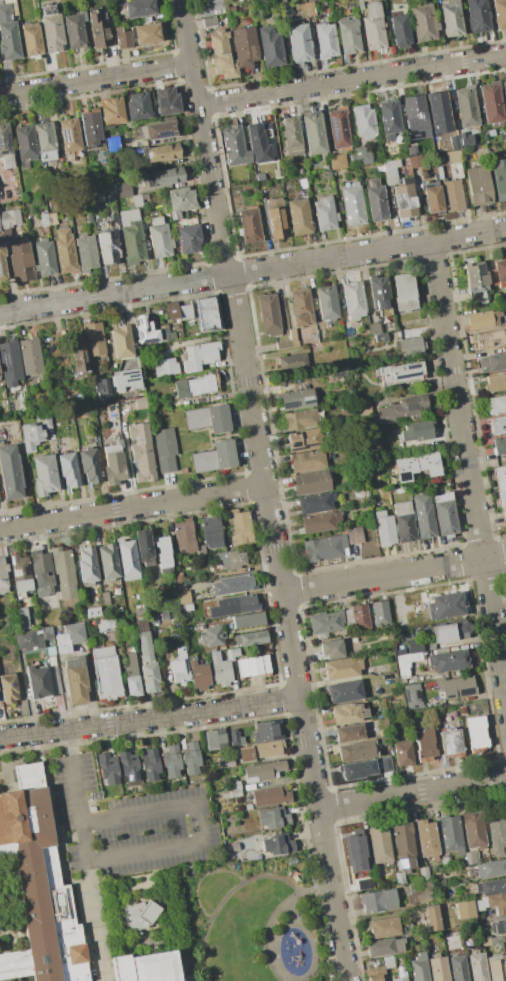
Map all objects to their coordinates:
building: (363, 0)
building: (390, 1)
building: (270, 3)
building: (405, 4)
building: (138, 8)
building: (231, 9)
building: (277, 12)
building: (499, 13)
building: (477, 16)
building: (450, 17)
building: (209, 22)
building: (423, 22)
building: (97, 27)
building: (373, 27)
building: (51, 29)
building: (75, 30)
building: (399, 31)
building: (8, 34)
building: (146, 34)
building: (349, 36)
building: (122, 38)
building: (31, 40)
building: (325, 41)
building: (299, 43)
building: (244, 46)
building: (271, 47)
building: (221, 54)
road: (95, 79)
road: (352, 82)
building: (504, 90)
building: (166, 101)
building: (492, 104)
building: (137, 106)
building: (466, 107)
building: (112, 110)
building: (414, 111)
building: (438, 112)
building: (389, 121)
building: (363, 123)
building: (91, 127)
building: (156, 130)
building: (338, 130)
building: (314, 133)
building: (69, 135)
building: (292, 136)
building: (45, 140)
building: (256, 141)
building: (454, 142)
building: (25, 144)
building: (112, 144)
building: (235, 145)
building: (412, 147)
building: (161, 152)
building: (272, 155)
building: (360, 156)
building: (454, 157)
building: (337, 162)
building: (415, 162)
building: (7, 167)
building: (390, 171)
building: (277, 173)
building: (325, 175)
building: (162, 176)
building: (499, 177)
building: (302, 183)
building: (477, 186)
building: (260, 187)
building: (122, 190)
building: (452, 195)
building: (432, 197)
building: (94, 199)
building: (136, 200)
building: (375, 201)
building: (404, 201)
building: (180, 202)
building: (353, 204)
building: (324, 213)
building: (298, 216)
building: (276, 217)
building: (51, 218)
building: (89, 218)
building: (43, 219)
building: (8, 222)
building: (250, 224)
building: (131, 236)
building: (188, 238)
building: (159, 239)
building: (108, 247)
building: (64, 251)
building: (86, 253)
building: (44, 257)
building: (21, 263)
building: (2, 265)
road: (253, 269)
building: (499, 273)
building: (474, 275)
building: (404, 292)
building: (379, 295)
building: (353, 299)
building: (327, 303)
building: (301, 307)
building: (171, 310)
building: (185, 312)
building: (206, 313)
building: (268, 314)
building: (483, 320)
building: (144, 331)
building: (347, 331)
building: (165, 333)
building: (292, 336)
building: (381, 338)
building: (95, 339)
building: (490, 339)
building: (121, 342)
building: (410, 347)
building: (79, 354)
building: (199, 355)
building: (30, 356)
building: (9, 359)
building: (291, 361)
building: (493, 362)
building: (166, 367)
building: (401, 373)
building: (126, 380)
building: (495, 382)
building: (196, 386)
building: (103, 388)
building: (297, 400)
building: (79, 403)
building: (497, 404)
building: (140, 406)
building: (363, 407)
building: (401, 409)
building: (207, 418)
building: (301, 419)
building: (498, 425)
building: (418, 431)
building: (35, 432)
building: (304, 440)
building: (499, 445)
building: (165, 449)
building: (142, 450)
building: (214, 457)
building: (307, 461)
building: (113, 463)
road: (469, 464)
building: (89, 466)
building: (416, 467)
building: (68, 469)
building: (10, 473)
building: (43, 474)
building: (311, 482)
building: (500, 485)
road: (265, 490)
building: (315, 503)
road: (132, 507)
building: (444, 514)
building: (320, 521)
building: (403, 522)
building: (424, 523)
building: (240, 526)
building: (384, 529)
building: (211, 531)
building: (187, 538)
building: (330, 545)
building: (144, 547)
building: (163, 554)
building: (231, 559)
building: (127, 560)
building: (108, 562)
building: (87, 566)
building: (41, 573)
building: (62, 573)
building: (20, 575)
building: (4, 577)
road: (394, 577)
building: (179, 578)
building: (233, 584)
building: (180, 586)
building: (157, 593)
building: (183, 596)
building: (105, 598)
building: (235, 605)
building: (446, 606)
building: (188, 607)
building: (94, 612)
building: (380, 613)
building: (163, 617)
building: (357, 617)
building: (153, 619)
building: (247, 620)
building: (325, 622)
building: (106, 625)
building: (461, 628)
building: (29, 634)
building: (69, 636)
building: (211, 637)
building: (250, 638)
building: (414, 646)
building: (332, 649)
building: (50, 651)
building: (146, 659)
building: (52, 661)
building: (448, 661)
building: (251, 666)
building: (180, 667)
building: (342, 668)
building: (220, 670)
building: (402, 670)
building: (106, 673)
building: (197, 673)
building: (132, 677)
road: (343, 679)
building: (75, 680)
building: (39, 683)
building: (456, 687)
building: (8, 688)
building: (344, 692)
building: (413, 696)
building: (437, 712)
road: (182, 713)
building: (348, 714)
building: (267, 731)
building: (476, 731)
building: (349, 732)
road: (33, 733)
building: (235, 738)
building: (214, 739)
building: (451, 741)
building: (424, 743)
building: (259, 751)
building: (352, 751)
building: (402, 753)
building: (191, 758)
building: (171, 762)
building: (225, 762)
building: (128, 766)
building: (151, 766)
building: (108, 768)
building: (354, 770)
building: (263, 771)
road: (74, 775)
building: (234, 789)
road: (412, 794)
building: (270, 796)
road: (157, 810)
building: (273, 818)
parking lot: (125, 827)
building: (473, 827)
building: (496, 831)
building: (451, 835)
building: (426, 838)
building: (277, 844)
building: (379, 844)
building: (404, 845)
building: (356, 851)
road: (124, 856)
building: (470, 857)
building: (491, 869)
building: (424, 873)
road: (263, 876)
road: (201, 877)
building: (399, 877)
building: (362, 884)
building: (491, 886)
building: (37, 887)
building: (418, 887)
building: (378, 901)
building: (497, 903)
building: (468, 908)
building: (143, 917)
building: (432, 917)
road: (271, 919)
park: (252, 921)
road: (285, 924)
building: (383, 927)
building: (497, 927)
building: (491, 941)
building: (505, 944)
building: (383, 947)
building: (388, 961)
building: (478, 966)
building: (419, 967)
building: (497, 967)
building: (149, 968)
building: (458, 968)
building: (438, 969)
building: (375, 974)
building: (400, 976)

